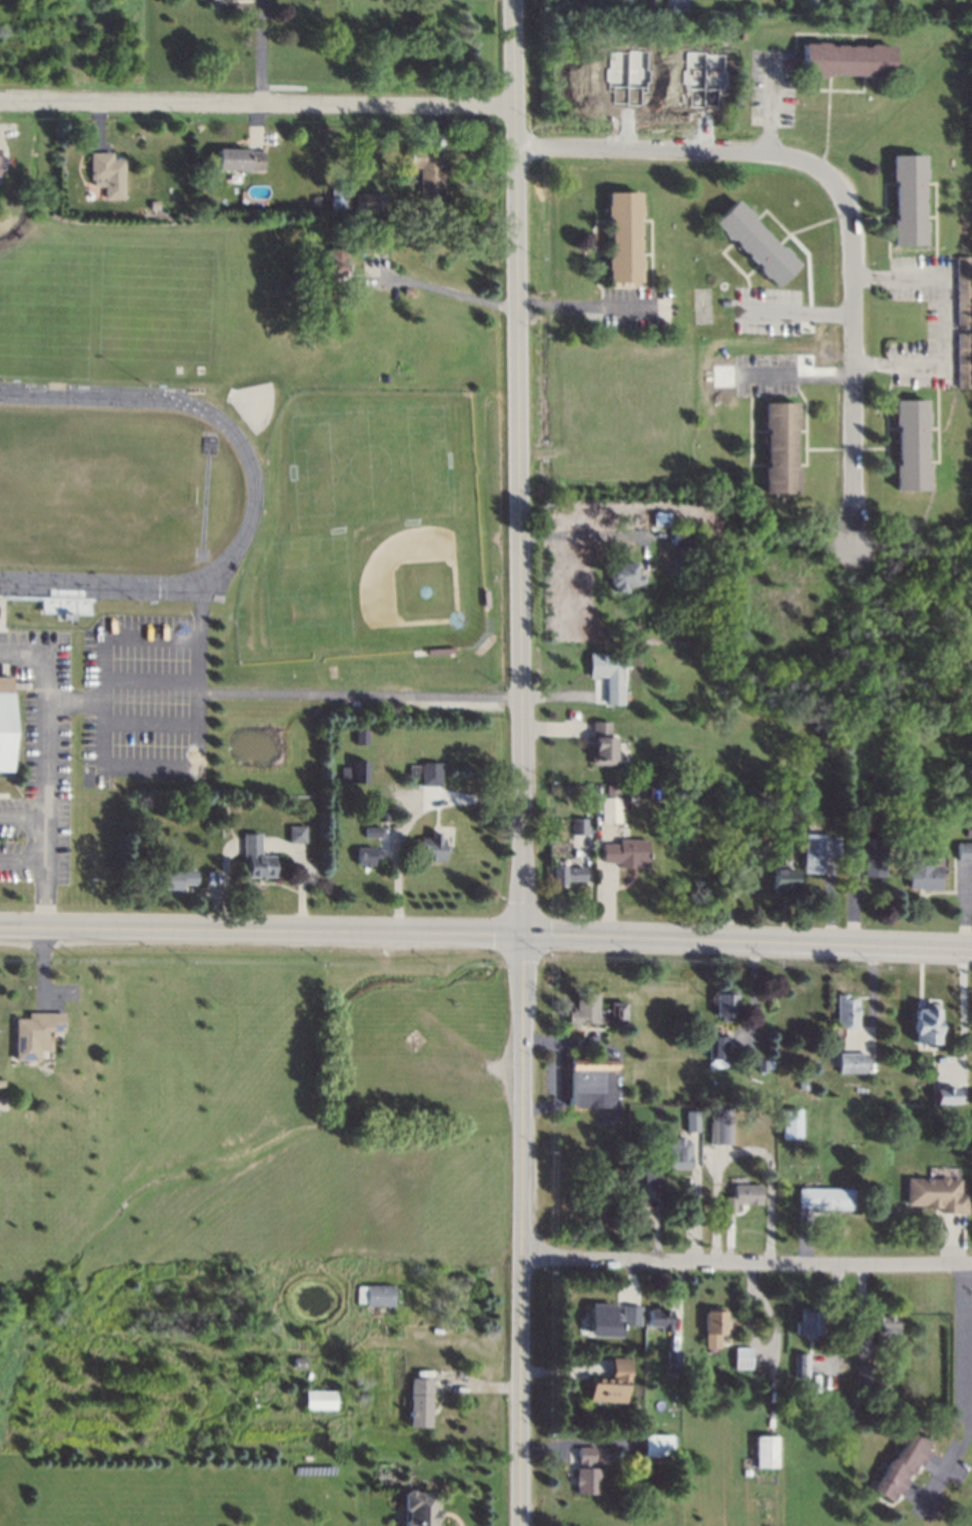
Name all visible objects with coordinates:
building: (672, 3)
building: (814, 5)
road: (258, 51)
building: (843, 59)
road: (257, 101)
road: (771, 105)
road: (675, 149)
building: (235, 158)
building: (0, 168)
building: (424, 170)
building: (103, 173)
building: (336, 197)
building: (313, 199)
building: (905, 199)
building: (366, 201)
building: (149, 203)
building: (624, 237)
building: (751, 241)
building: (364, 242)
building: (328, 267)
building: (960, 289)
road: (449, 293)
road: (592, 306)
parking lot: (631, 307)
road: (798, 312)
road: (944, 321)
road: (855, 352)
building: (962, 357)
road: (799, 373)
building: (908, 443)
building: (776, 446)
park: (96, 491)
track: (121, 492)
park: (364, 529)
building: (764, 530)
road: (589, 533)
building: (678, 534)
building: (619, 572)
building: (484, 599)
building: (66, 606)
building: (441, 649)
building: (606, 674)
road: (361, 694)
road: (76, 702)
road: (103, 710)
building: (5, 724)
building: (357, 735)
building: (601, 738)
building: (637, 757)
road: (522, 762)
road: (48, 767)
building: (409, 768)
building: (414, 770)
building: (350, 773)
building: (427, 773)
building: (607, 803)
road: (408, 812)
building: (774, 813)
building: (382, 815)
road: (24, 816)
building: (575, 825)
building: (368, 828)
building: (967, 830)
building: (293, 832)
building: (429, 849)
building: (816, 849)
building: (963, 849)
building: (623, 852)
building: (866, 853)
building: (363, 854)
building: (253, 857)
road: (24, 862)
building: (565, 872)
building: (916, 872)
building: (170, 878)
building: (779, 880)
road: (486, 933)
building: (725, 1003)
building: (585, 1007)
building: (617, 1008)
building: (844, 1012)
building: (924, 1024)
building: (34, 1034)
building: (719, 1051)
building: (851, 1061)
building: (0, 1082)
building: (590, 1084)
building: (803, 1087)
building: (945, 1095)
building: (791, 1119)
building: (691, 1125)
building: (719, 1125)
building: (677, 1155)
building: (650, 1176)
building: (740, 1196)
building: (937, 1197)
building: (824, 1200)
building: (640, 1207)
road: (746, 1260)
building: (380, 1297)
building: (634, 1314)
building: (606, 1317)
building: (660, 1320)
building: (807, 1321)
building: (713, 1323)
building: (885, 1323)
building: (299, 1359)
building: (673, 1359)
building: (745, 1362)
building: (800, 1366)
building: (860, 1368)
building: (613, 1386)
road: (961, 1388)
building: (321, 1396)
building: (861, 1398)
building: (421, 1404)
building: (657, 1449)
building: (765, 1454)
building: (585, 1455)
building: (904, 1466)
building: (585, 1481)
building: (419, 1506)

